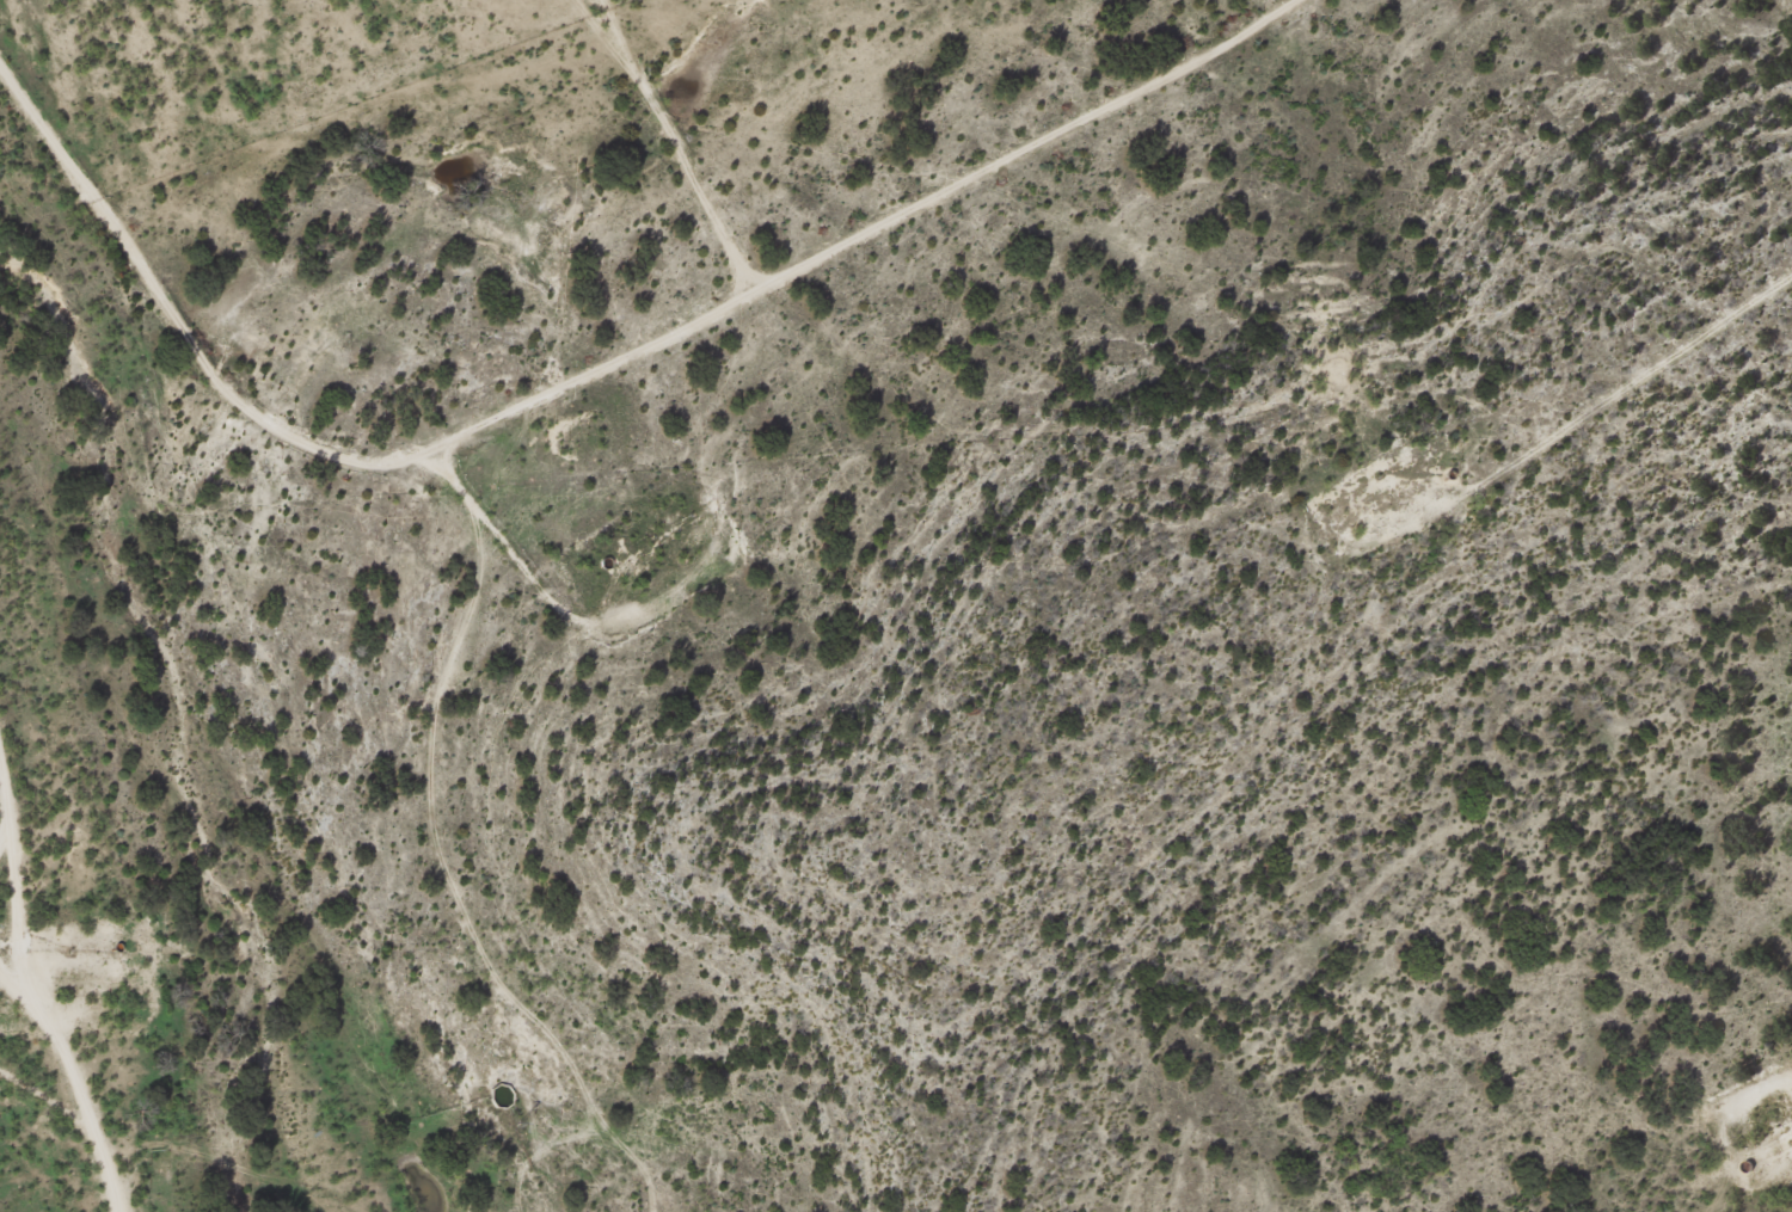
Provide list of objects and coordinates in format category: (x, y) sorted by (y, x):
road: (900, 236)
road: (459, 565)
road: (1540, 565)
road: (54, 1014)
road: (238, 1168)
road: (1778, 1202)

